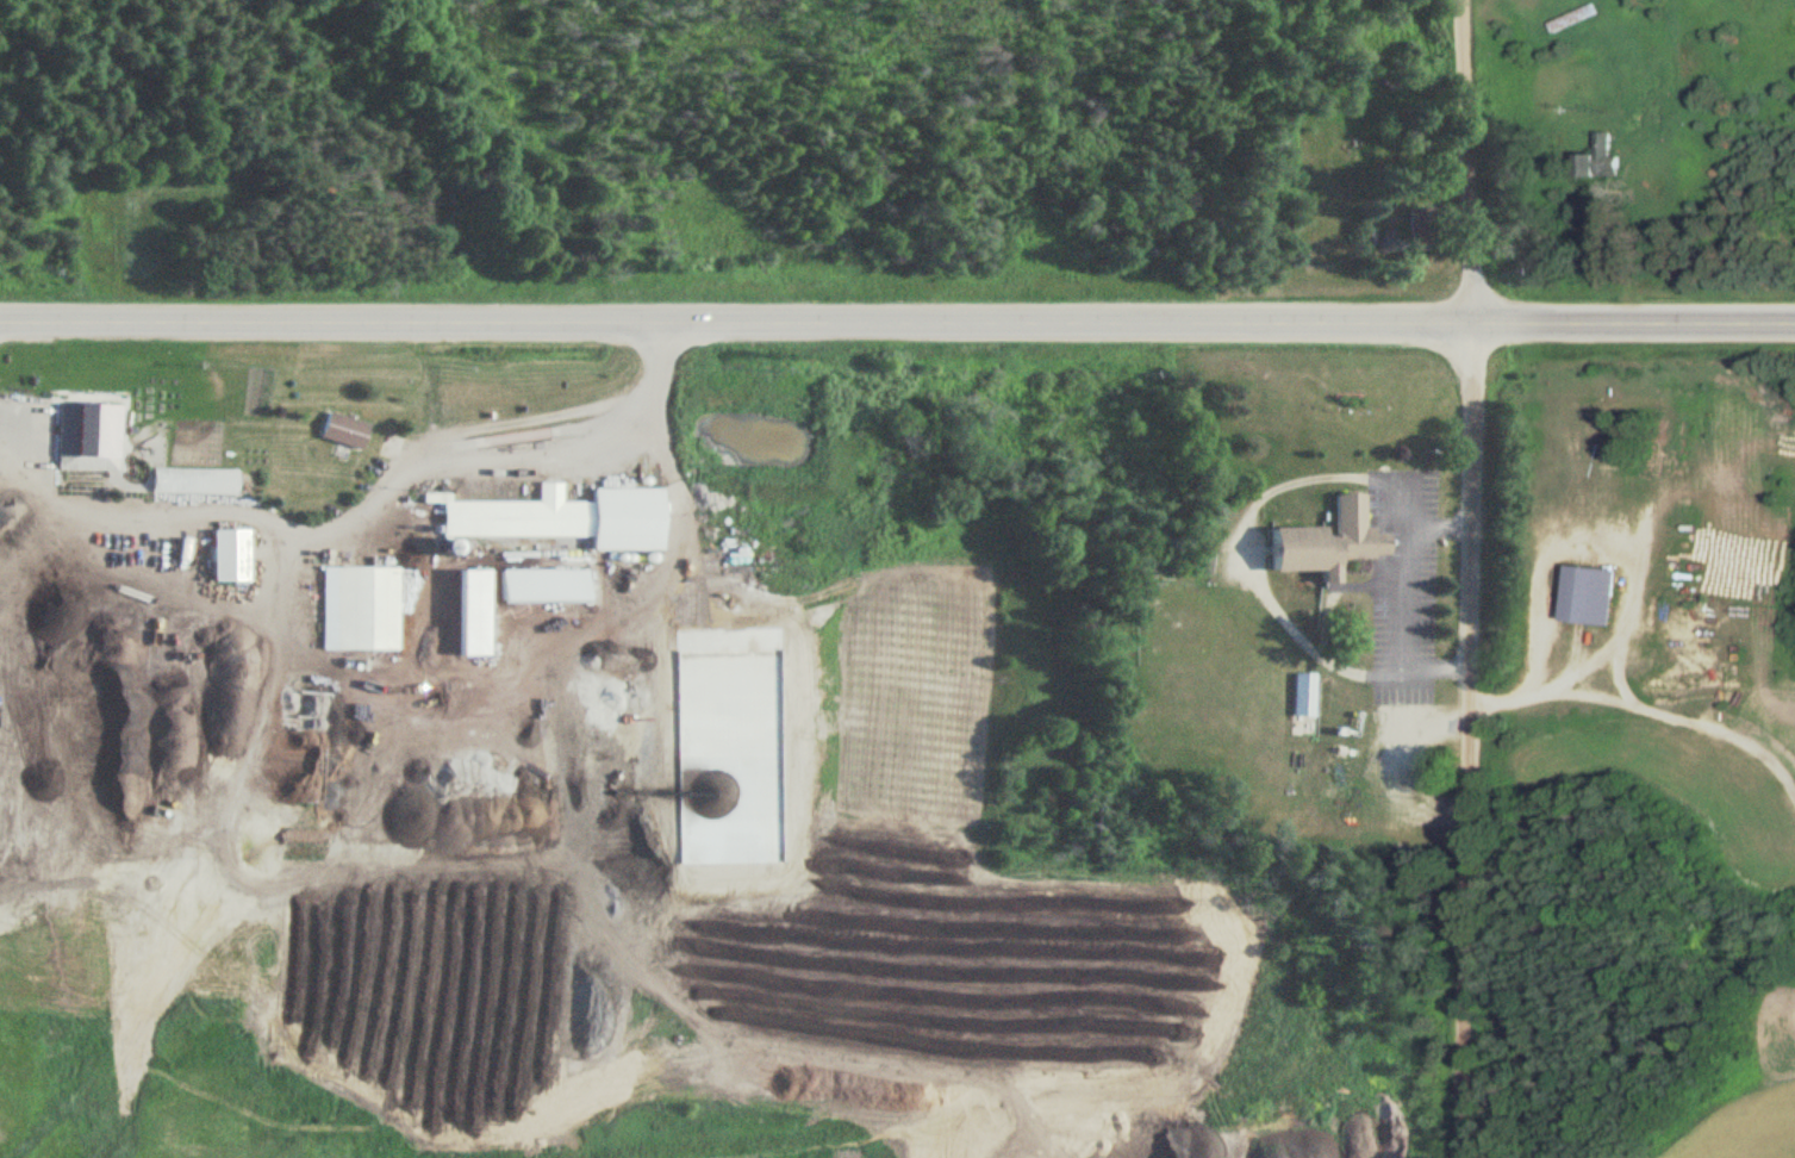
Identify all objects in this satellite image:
building: (1573, 18)
building: (1600, 160)
building: (1420, 229)
road: (737, 320)
road: (1635, 320)
building: (88, 428)
building: (343, 430)
parking lot: (37, 446)
road: (587, 454)
road: (413, 457)
building: (1609, 468)
building: (194, 479)
parking lot: (1408, 493)
road: (1403, 506)
road: (154, 515)
building: (566, 516)
building: (1329, 543)
building: (229, 553)
road: (1247, 553)
road: (1402, 574)
road: (282, 575)
road: (1470, 578)
building: (535, 583)
building: (1590, 596)
building: (363, 606)
building: (470, 610)
parking lot: (1408, 630)
road: (341, 667)
road: (1384, 675)
building: (1307, 693)
road: (553, 899)

